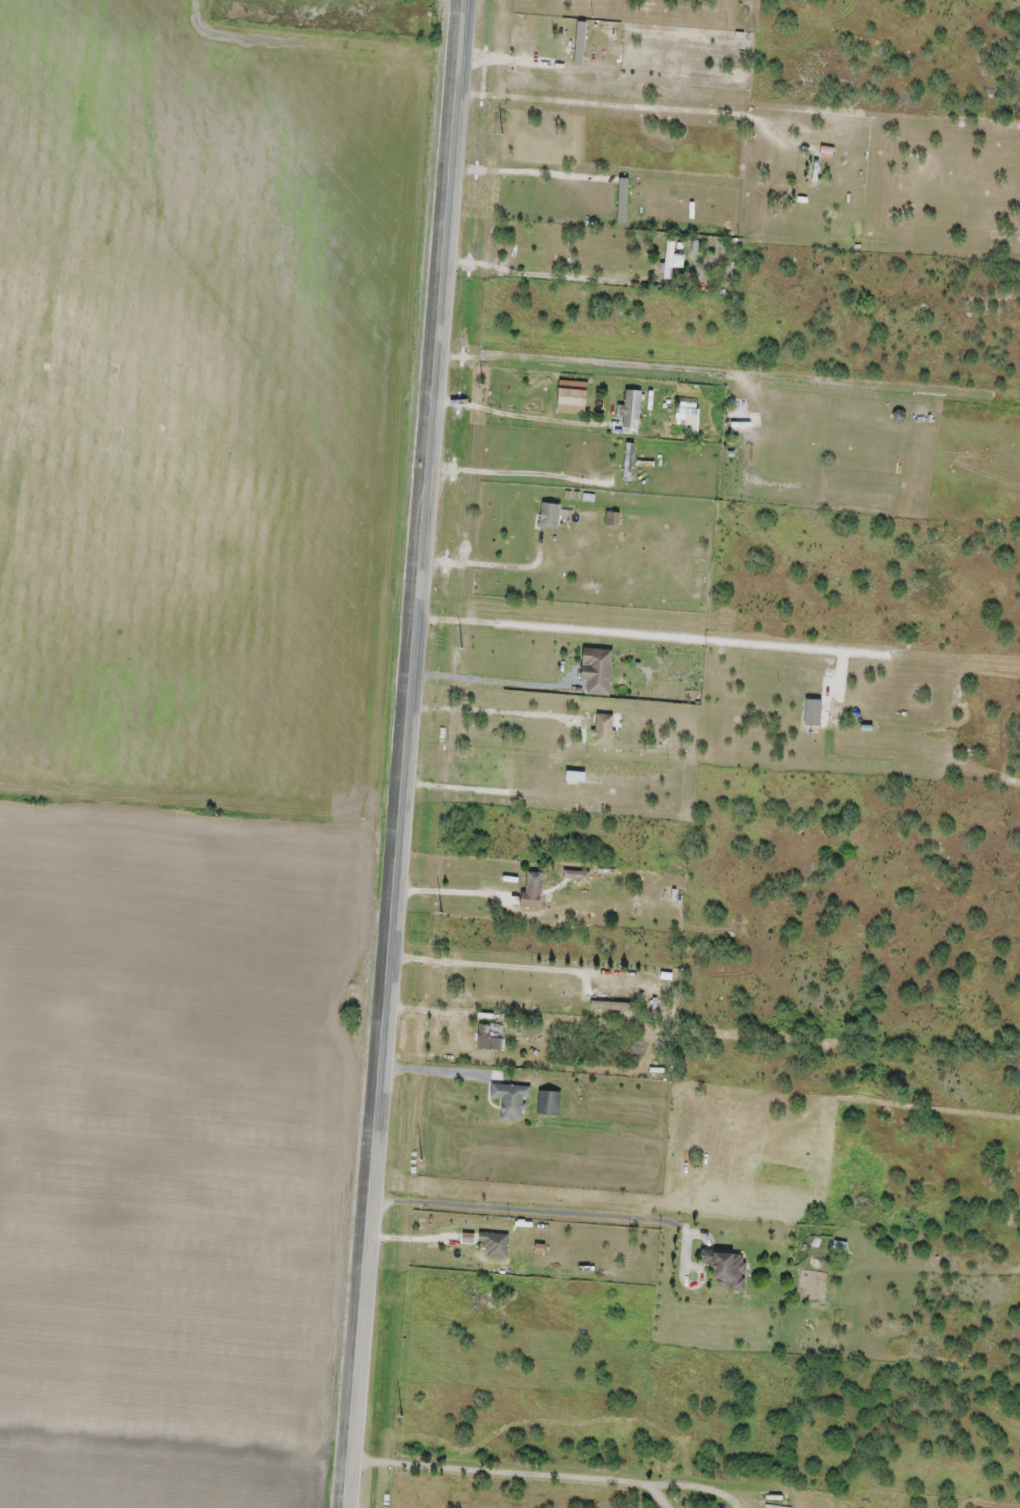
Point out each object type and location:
road: (618, 80)
road: (617, 97)
building: (827, 150)
building: (670, 258)
road: (598, 344)
road: (597, 360)
building: (633, 407)
building: (629, 459)
building: (550, 514)
building: (613, 517)
road: (749, 602)
road: (579, 604)
road: (576, 621)
building: (598, 669)
road: (409, 753)
road: (201, 838)
building: (535, 881)
road: (553, 921)
road: (549, 935)
building: (490, 1038)
building: (511, 1099)
building: (549, 1101)
road: (699, 1205)
road: (529, 1207)
road: (852, 1216)
building: (496, 1244)
building: (727, 1267)
road: (510, 1448)
road: (510, 1468)

